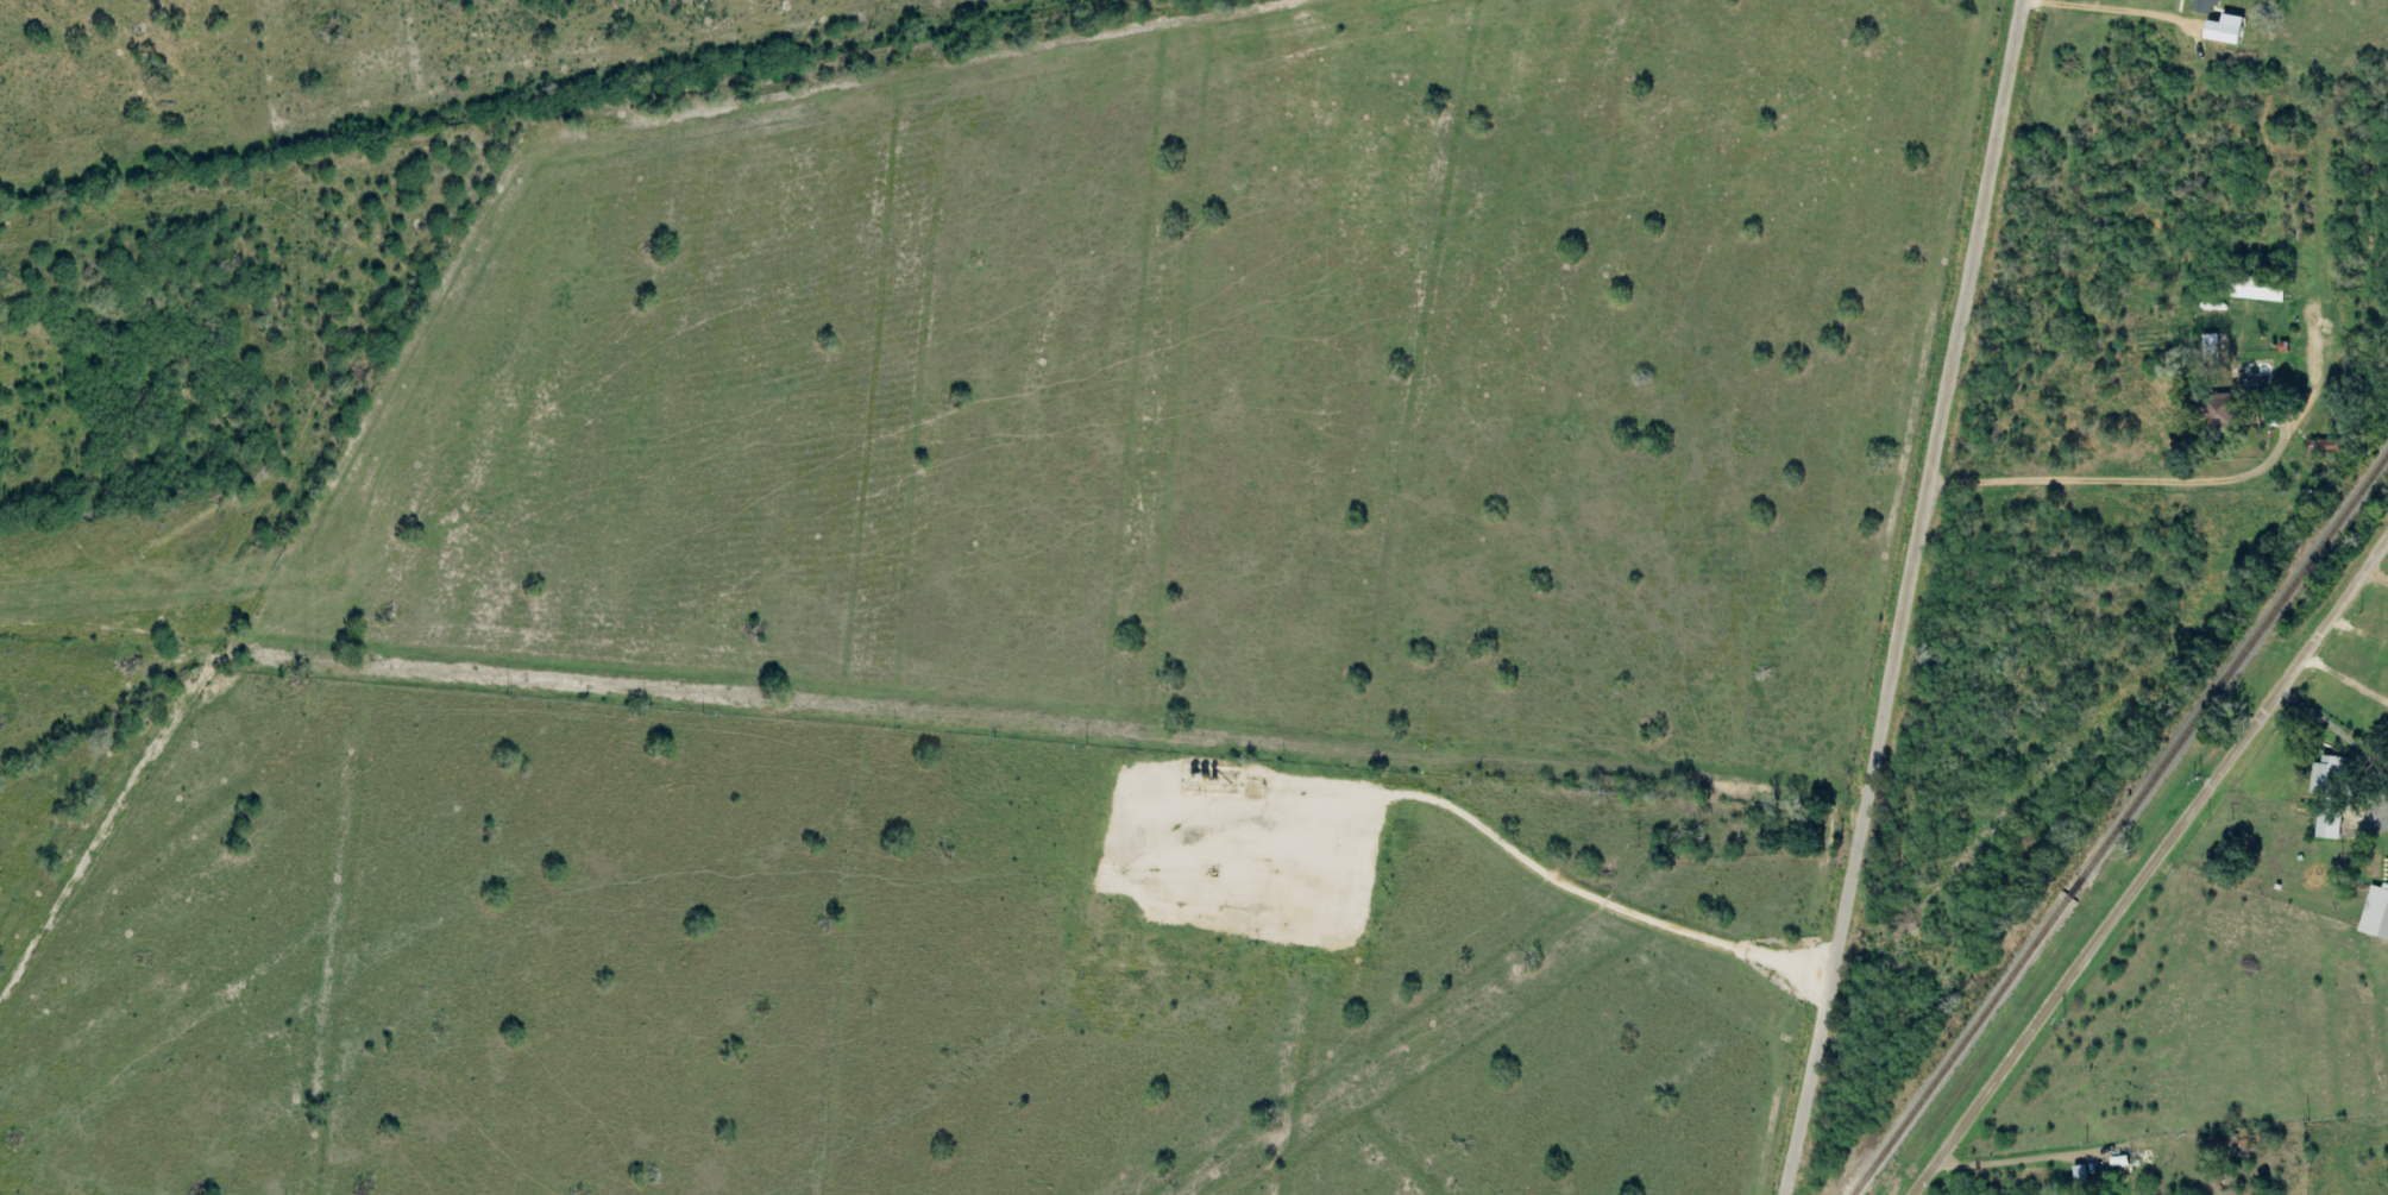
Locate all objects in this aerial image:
building: (2206, 7)
building: (2226, 31)
building: (2258, 289)
building: (2225, 411)
road: (1910, 597)
building: (2329, 774)
railway: (2119, 822)
building: (2330, 825)
road: (2151, 868)
building: (2376, 914)
building: (2084, 1182)

